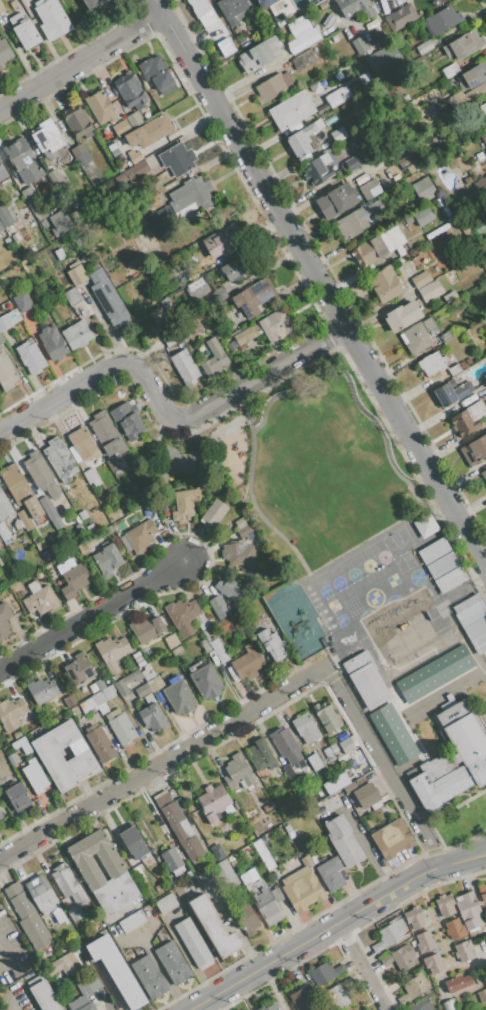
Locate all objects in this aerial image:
building: (314, 2)
building: (436, 2)
building: (264, 3)
building: (12, 4)
building: (96, 5)
building: (199, 7)
building: (355, 7)
building: (2, 8)
road: (159, 8)
building: (232, 9)
building: (401, 17)
building: (52, 19)
building: (279, 19)
building: (328, 20)
building: (442, 20)
building: (204, 21)
building: (219, 26)
building: (24, 31)
road: (174, 33)
building: (301, 34)
building: (273, 42)
building: (358, 45)
building: (463, 45)
building: (423, 47)
building: (232, 51)
building: (4, 52)
building: (384, 56)
building: (254, 57)
road: (81, 64)
building: (450, 70)
building: (157, 74)
building: (475, 74)
building: (453, 84)
building: (273, 87)
building: (130, 91)
building: (312, 97)
building: (335, 97)
building: (466, 97)
building: (485, 103)
building: (101, 108)
building: (291, 111)
building: (133, 119)
building: (77, 122)
building: (119, 127)
building: (156, 127)
building: (338, 134)
building: (137, 137)
building: (303, 138)
building: (483, 138)
building: (47, 139)
building: (80, 155)
building: (134, 155)
building: (177, 159)
building: (23, 161)
building: (356, 161)
building: (403, 163)
building: (317, 169)
building: (410, 169)
building: (136, 171)
building: (2, 172)
building: (485, 176)
building: (370, 189)
building: (423, 189)
building: (192, 192)
building: (31, 200)
building: (336, 200)
building: (41, 215)
building: (4, 216)
building: (423, 216)
building: (359, 220)
building: (408, 220)
building: (159, 221)
building: (59, 223)
building: (43, 224)
building: (1, 228)
building: (436, 231)
building: (395, 236)
building: (220, 243)
building: (381, 244)
building: (59, 253)
building: (365, 254)
building: (235, 270)
building: (77, 275)
building: (420, 279)
building: (385, 284)
building: (195, 288)
building: (430, 290)
building: (221, 293)
building: (2, 294)
building: (72, 296)
building: (450, 296)
building: (253, 297)
building: (107, 298)
building: (85, 299)
building: (23, 301)
road: (336, 307)
building: (438, 314)
building: (402, 316)
building: (9, 319)
building: (192, 328)
building: (266, 329)
building: (76, 334)
building: (422, 335)
building: (1, 340)
building: (52, 342)
building: (30, 358)
building: (213, 358)
building: (468, 361)
building: (430, 364)
building: (463, 364)
building: (184, 367)
building: (454, 369)
building: (6, 373)
building: (444, 373)
building: (484, 377)
building: (451, 391)
road: (352, 392)
road: (165, 413)
building: (468, 418)
building: (127, 421)
building: (106, 434)
building: (81, 445)
building: (474, 450)
building: (60, 459)
building: (176, 461)
building: (111, 465)
park: (312, 467)
building: (42, 475)
building: (90, 475)
building: (484, 475)
building: (20, 490)
road: (249, 491)
building: (5, 507)
building: (182, 507)
building: (48, 508)
building: (214, 513)
building: (82, 514)
building: (23, 521)
building: (242, 522)
building: (56, 523)
building: (424, 525)
building: (90, 528)
building: (247, 532)
building: (5, 534)
building: (138, 537)
building: (21, 539)
building: (0, 540)
building: (0, 547)
building: (237, 553)
building: (107, 560)
road: (321, 568)
building: (72, 577)
building: (14, 586)
building: (226, 589)
building: (40, 599)
building: (466, 603)
building: (218, 607)
building: (471, 613)
road: (92, 615)
building: (183, 616)
building: (4, 621)
building: (422, 627)
building: (146, 628)
building: (475, 628)
building: (407, 635)
building: (271, 644)
building: (393, 644)
building: (479, 644)
building: (205, 645)
building: (218, 650)
building: (112, 651)
building: (247, 661)
building: (80, 669)
building: (147, 673)
building: (435, 674)
building: (366, 679)
building: (207, 680)
building: (127, 682)
building: (155, 684)
building: (43, 690)
building: (142, 690)
building: (179, 697)
building: (98, 698)
building: (11, 713)
building: (90, 716)
building: (153, 716)
building: (326, 717)
building: (120, 725)
building: (305, 729)
building: (393, 734)
building: (99, 743)
building: (22, 745)
building: (285, 745)
building: (346, 745)
building: (50, 756)
building: (261, 756)
building: (453, 757)
building: (12, 759)
road: (162, 762)
building: (314, 762)
road: (384, 767)
building: (238, 774)
building: (35, 776)
building: (0, 778)
building: (360, 780)
building: (336, 782)
building: (349, 786)
building: (366, 795)
building: (17, 796)
building: (213, 800)
building: (1, 815)
building: (178, 825)
building: (392, 839)
building: (133, 841)
building: (343, 841)
building: (217, 851)
building: (264, 855)
building: (95, 857)
building: (171, 858)
building: (331, 874)
building: (302, 887)
building: (70, 890)
building: (116, 892)
building: (482, 892)
building: (41, 894)
building: (263, 896)
building: (165, 903)
building: (445, 905)
building: (470, 911)
building: (27, 916)
building: (59, 917)
building: (415, 917)
building: (246, 918)
building: (132, 921)
building: (209, 924)
road: (334, 924)
building: (455, 928)
building: (389, 934)
building: (425, 941)
building: (192, 942)
road: (1, 946)
road: (1, 948)
building: (463, 951)
road: (5, 954)
building: (400, 957)
road: (4, 963)
building: (65, 963)
building: (173, 963)
building: (434, 963)
road: (362, 965)
building: (117, 970)
building: (324, 973)
building: (149, 977)
building: (480, 980)
building: (457, 983)
building: (414, 988)
building: (338, 994)
building: (482, 995)
building: (44, 996)
road: (5, 1000)
building: (299, 1000)
building: (419, 1005)
building: (449, 1005)
building: (87, 1006)
building: (270, 1007)
building: (3, 1009)
building: (368, 1009)
road: (386, 1009)

